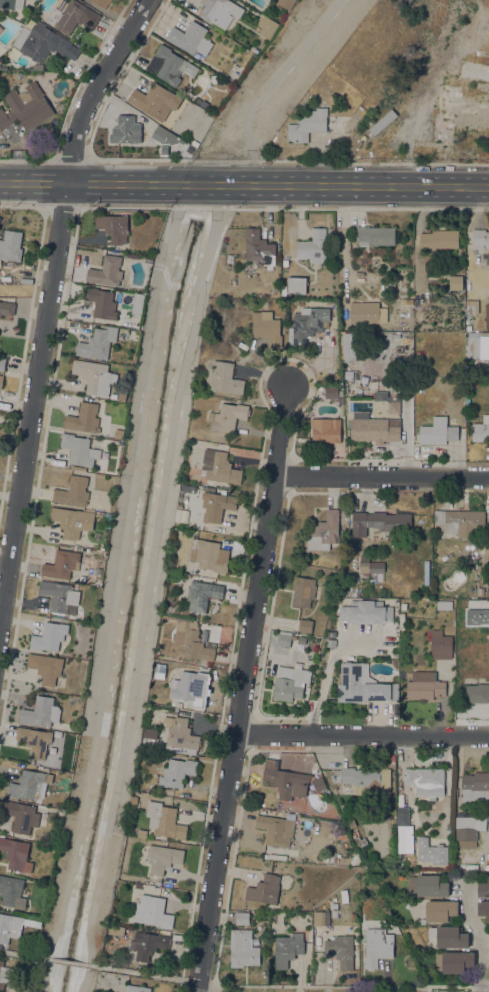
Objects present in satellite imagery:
building: (110, 1)
building: (102, 3)
road: (185, 3)
building: (286, 3)
building: (11, 4)
road: (167, 10)
building: (219, 12)
road: (108, 14)
building: (72, 16)
building: (266, 26)
building: (1, 29)
road: (113, 31)
building: (190, 39)
building: (35, 42)
road: (132, 56)
road: (91, 64)
road: (371, 64)
building: (170, 66)
building: (36, 68)
road: (129, 73)
building: (213, 79)
road: (266, 84)
road: (472, 94)
building: (481, 94)
road: (71, 99)
building: (0, 100)
building: (154, 101)
building: (201, 103)
road: (124, 107)
road: (405, 107)
building: (25, 109)
building: (314, 125)
building: (462, 127)
building: (126, 131)
building: (165, 136)
road: (73, 160)
road: (201, 160)
road: (7, 183)
road: (40, 183)
road: (105, 183)
road: (316, 186)
road: (60, 208)
building: (113, 227)
building: (374, 236)
building: (439, 239)
building: (480, 239)
building: (11, 246)
building: (312, 246)
building: (258, 248)
building: (485, 261)
building: (285, 263)
road: (70, 266)
building: (106, 272)
building: (390, 283)
building: (455, 283)
building: (296, 285)
building: (283, 291)
building: (392, 291)
road: (49, 300)
building: (407, 301)
building: (102, 303)
building: (137, 304)
building: (472, 307)
building: (7, 308)
building: (367, 313)
building: (307, 325)
building: (266, 328)
road: (25, 338)
building: (97, 343)
building: (478, 346)
building: (348, 347)
building: (2, 363)
building: (348, 376)
building: (94, 377)
building: (225, 378)
building: (1, 380)
building: (332, 392)
building: (121, 397)
building: (394, 407)
building: (227, 417)
building: (84, 419)
building: (325, 430)
building: (375, 430)
building: (481, 430)
building: (437, 432)
building: (118, 435)
building: (79, 450)
building: (219, 468)
road: (383, 476)
building: (183, 477)
building: (73, 492)
building: (216, 506)
building: (99, 514)
building: (72, 521)
building: (379, 522)
building: (458, 522)
building: (324, 532)
building: (209, 556)
building: (62, 565)
building: (370, 566)
building: (376, 578)
building: (303, 591)
building: (480, 591)
building: (59, 595)
building: (202, 595)
building: (444, 605)
building: (403, 606)
building: (366, 612)
building: (477, 616)
building: (401, 621)
building: (305, 626)
building: (214, 629)
building: (331, 635)
building: (49, 637)
building: (283, 639)
building: (301, 640)
building: (190, 641)
building: (440, 642)
building: (331, 643)
building: (394, 661)
building: (45, 667)
building: (159, 672)
road: (325, 673)
building: (290, 683)
building: (424, 685)
building: (359, 686)
building: (188, 687)
road: (244, 689)
building: (475, 693)
building: (40, 712)
building: (181, 734)
road: (363, 735)
building: (34, 740)
building: (145, 743)
building: (177, 772)
building: (289, 772)
building: (66, 777)
building: (357, 777)
building: (425, 781)
building: (318, 783)
building: (29, 785)
building: (475, 787)
building: (21, 816)
building: (402, 816)
building: (164, 821)
building: (351, 824)
building: (466, 829)
building: (276, 830)
building: (141, 833)
building: (405, 839)
building: (362, 843)
building: (431, 852)
building: (16, 854)
building: (163, 858)
building: (345, 861)
building: (137, 886)
building: (431, 886)
building: (483, 889)
building: (264, 890)
building: (11, 892)
building: (483, 910)
building: (440, 911)
building: (152, 912)
building: (242, 918)
building: (321, 918)
building: (310, 924)
building: (13, 927)
building: (116, 930)
road: (479, 935)
building: (451, 938)
building: (147, 945)
building: (377, 946)
building: (243, 949)
building: (287, 949)
building: (341, 950)
building: (488, 951)
road: (19, 955)
building: (453, 962)
road: (67, 963)
building: (4, 975)
road: (146, 975)
building: (137, 988)

